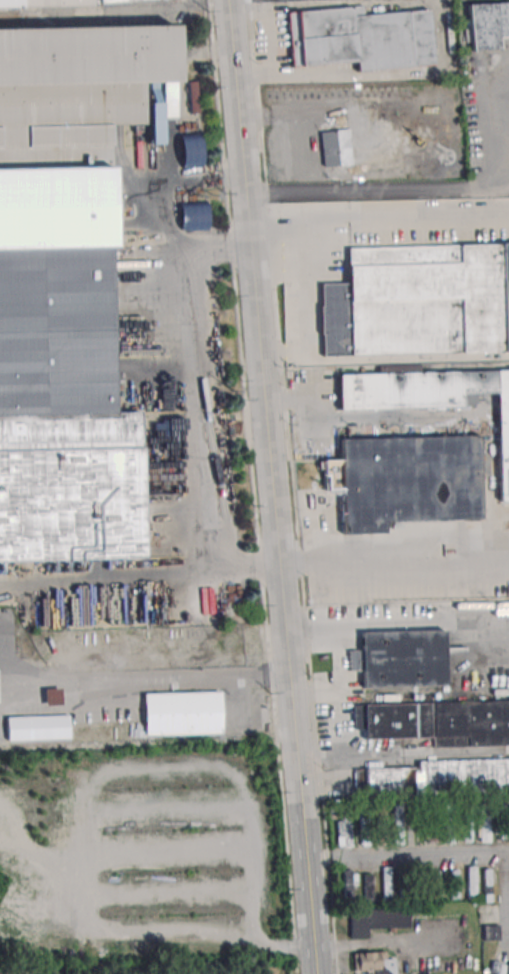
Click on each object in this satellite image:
building: (80, 3)
road: (249, 6)
building: (488, 26)
building: (360, 39)
road: (287, 114)
building: (349, 150)
road: (164, 181)
road: (217, 248)
building: (68, 295)
road: (305, 299)
building: (418, 300)
building: (431, 398)
road: (197, 408)
building: (160, 475)
building: (406, 481)
road: (269, 487)
road: (318, 531)
road: (250, 563)
road: (392, 564)
road: (423, 624)
road: (338, 655)
building: (401, 658)
building: (50, 696)
building: (181, 713)
building: (436, 721)
building: (37, 727)
road: (338, 756)
building: (439, 778)
building: (368, 817)
building: (398, 824)
building: (484, 827)
building: (467, 829)
building: (343, 831)
road: (505, 854)
road: (419, 856)
road: (320, 858)
building: (471, 882)
building: (454, 883)
building: (349, 884)
building: (386, 884)
building: (434, 885)
building: (487, 885)
building: (368, 888)
road: (502, 902)
building: (376, 920)
building: (490, 932)
road: (381, 945)
building: (372, 963)
building: (496, 967)
building: (508, 967)

